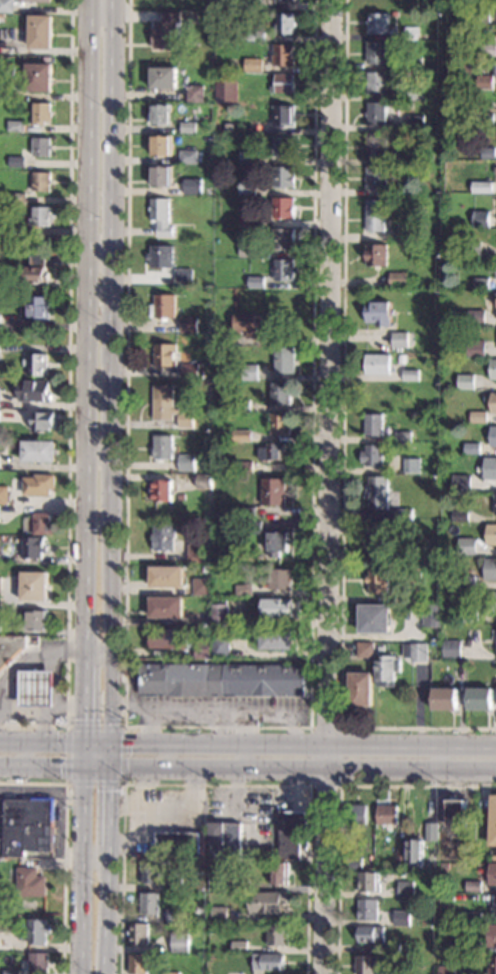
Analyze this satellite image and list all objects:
building: (285, 0)
building: (35, 1)
building: (251, 5)
building: (6, 6)
building: (394, 13)
building: (481, 13)
building: (284, 23)
building: (379, 24)
building: (167, 31)
building: (40, 32)
building: (256, 36)
building: (243, 37)
building: (488, 50)
building: (378, 52)
building: (282, 55)
building: (221, 56)
building: (414, 64)
building: (253, 65)
building: (495, 69)
building: (38, 78)
building: (163, 78)
building: (376, 83)
building: (485, 83)
building: (282, 84)
building: (1, 89)
building: (226, 91)
building: (420, 92)
building: (194, 93)
building: (41, 113)
building: (375, 113)
building: (160, 115)
building: (283, 115)
building: (485, 118)
building: (416, 123)
building: (15, 126)
building: (187, 127)
building: (160, 145)
building: (376, 145)
building: (283, 146)
building: (41, 147)
building: (488, 153)
building: (416, 156)
building: (187, 157)
building: (247, 157)
building: (16, 162)
building: (159, 176)
building: (283, 176)
building: (375, 178)
building: (41, 182)
building: (192, 187)
building: (483, 187)
building: (246, 188)
building: (405, 190)
building: (17, 198)
building: (283, 208)
building: (375, 215)
building: (40, 217)
building: (160, 217)
building: (480, 219)
building: (247, 220)
building: (466, 222)
building: (16, 232)
building: (3, 233)
building: (399, 235)
building: (282, 238)
building: (472, 249)
building: (247, 251)
building: (376, 254)
building: (160, 256)
building: (7, 257)
building: (492, 268)
building: (35, 269)
building: (281, 269)
building: (183, 277)
building: (397, 279)
building: (252, 282)
building: (481, 283)
building: (38, 307)
building: (162, 307)
building: (378, 313)
building: (476, 318)
building: (246, 324)
building: (188, 325)
road: (82, 329)
building: (221, 336)
building: (399, 339)
building: (476, 348)
building: (164, 355)
building: (284, 360)
building: (378, 364)
building: (37, 365)
building: (493, 369)
building: (191, 372)
building: (250, 373)
building: (410, 375)
road: (108, 382)
building: (465, 382)
building: (33, 392)
building: (280, 394)
building: (0, 395)
road: (68, 396)
building: (163, 402)
building: (493, 402)
building: (240, 405)
building: (478, 417)
building: (185, 419)
building: (41, 421)
building: (279, 424)
building: (373, 424)
building: (241, 436)
building: (403, 437)
building: (493, 437)
road: (343, 441)
building: (400, 445)
building: (161, 447)
building: (471, 448)
building: (38, 451)
building: (271, 451)
building: (372, 455)
building: (185, 463)
building: (231, 464)
building: (411, 465)
building: (244, 466)
building: (489, 468)
building: (215, 477)
building: (203, 481)
building: (461, 482)
building: (38, 485)
road: (329, 487)
building: (161, 490)
building: (272, 492)
building: (376, 492)
building: (3, 494)
building: (494, 504)
building: (247, 512)
building: (404, 514)
building: (460, 516)
building: (42, 524)
building: (252, 527)
building: (491, 534)
building: (161, 537)
building: (379, 539)
building: (277, 543)
building: (466, 546)
building: (33, 547)
building: (195, 552)
building: (490, 569)
building: (414, 575)
building: (165, 577)
building: (281, 579)
building: (378, 580)
building: (466, 582)
building: (33, 586)
building: (201, 587)
building: (243, 590)
building: (0, 592)
building: (492, 602)
building: (165, 607)
building: (277, 608)
building: (219, 615)
building: (431, 615)
building: (469, 617)
building: (374, 619)
building: (37, 620)
building: (202, 630)
building: (493, 635)
building: (170, 638)
building: (276, 639)
building: (220, 647)
road: (95, 648)
building: (380, 648)
building: (202, 649)
building: (365, 649)
building: (451, 649)
building: (11, 650)
building: (419, 652)
road: (32, 659)
building: (387, 671)
building: (220, 680)
building: (494, 681)
building: (35, 688)
building: (360, 689)
road: (56, 699)
building: (444, 699)
building: (479, 699)
road: (42, 711)
road: (214, 711)
road: (84, 712)
traffic signals: (84, 719)
road: (146, 727)
road: (217, 727)
traffic signals: (130, 745)
road: (247, 745)
road: (41, 764)
traffic signals: (59, 765)
road: (95, 765)
road: (300, 766)
road: (121, 784)
road: (215, 785)
road: (340, 785)
traffic signals: (107, 790)
road: (339, 802)
road: (107, 803)
building: (457, 813)
building: (356, 814)
building: (387, 814)
building: (493, 822)
building: (27, 827)
building: (431, 832)
building: (292, 835)
building: (225, 841)
building: (177, 843)
road: (64, 846)
building: (415, 853)
building: (401, 857)
building: (494, 857)
building: (353, 863)
road: (81, 869)
building: (280, 872)
building: (151, 873)
building: (492, 874)
building: (30, 882)
building: (369, 882)
building: (174, 884)
building: (473, 886)
building: (405, 889)
building: (268, 902)
building: (150, 903)
building: (494, 905)
road: (106, 908)
building: (368, 910)
building: (175, 915)
building: (219, 916)
building: (402, 918)
building: (472, 918)
building: (458, 927)
building: (39, 931)
building: (138, 934)
building: (278, 934)
building: (371, 935)
building: (492, 936)
building: (6, 940)
building: (180, 943)
building: (473, 946)
building: (239, 947)
building: (391, 949)
building: (219, 955)
building: (268, 962)
building: (39, 963)
building: (139, 964)
building: (366, 964)
building: (492, 965)
building: (447, 970)
building: (13, 972)
building: (389, 972)
building: (171, 973)

